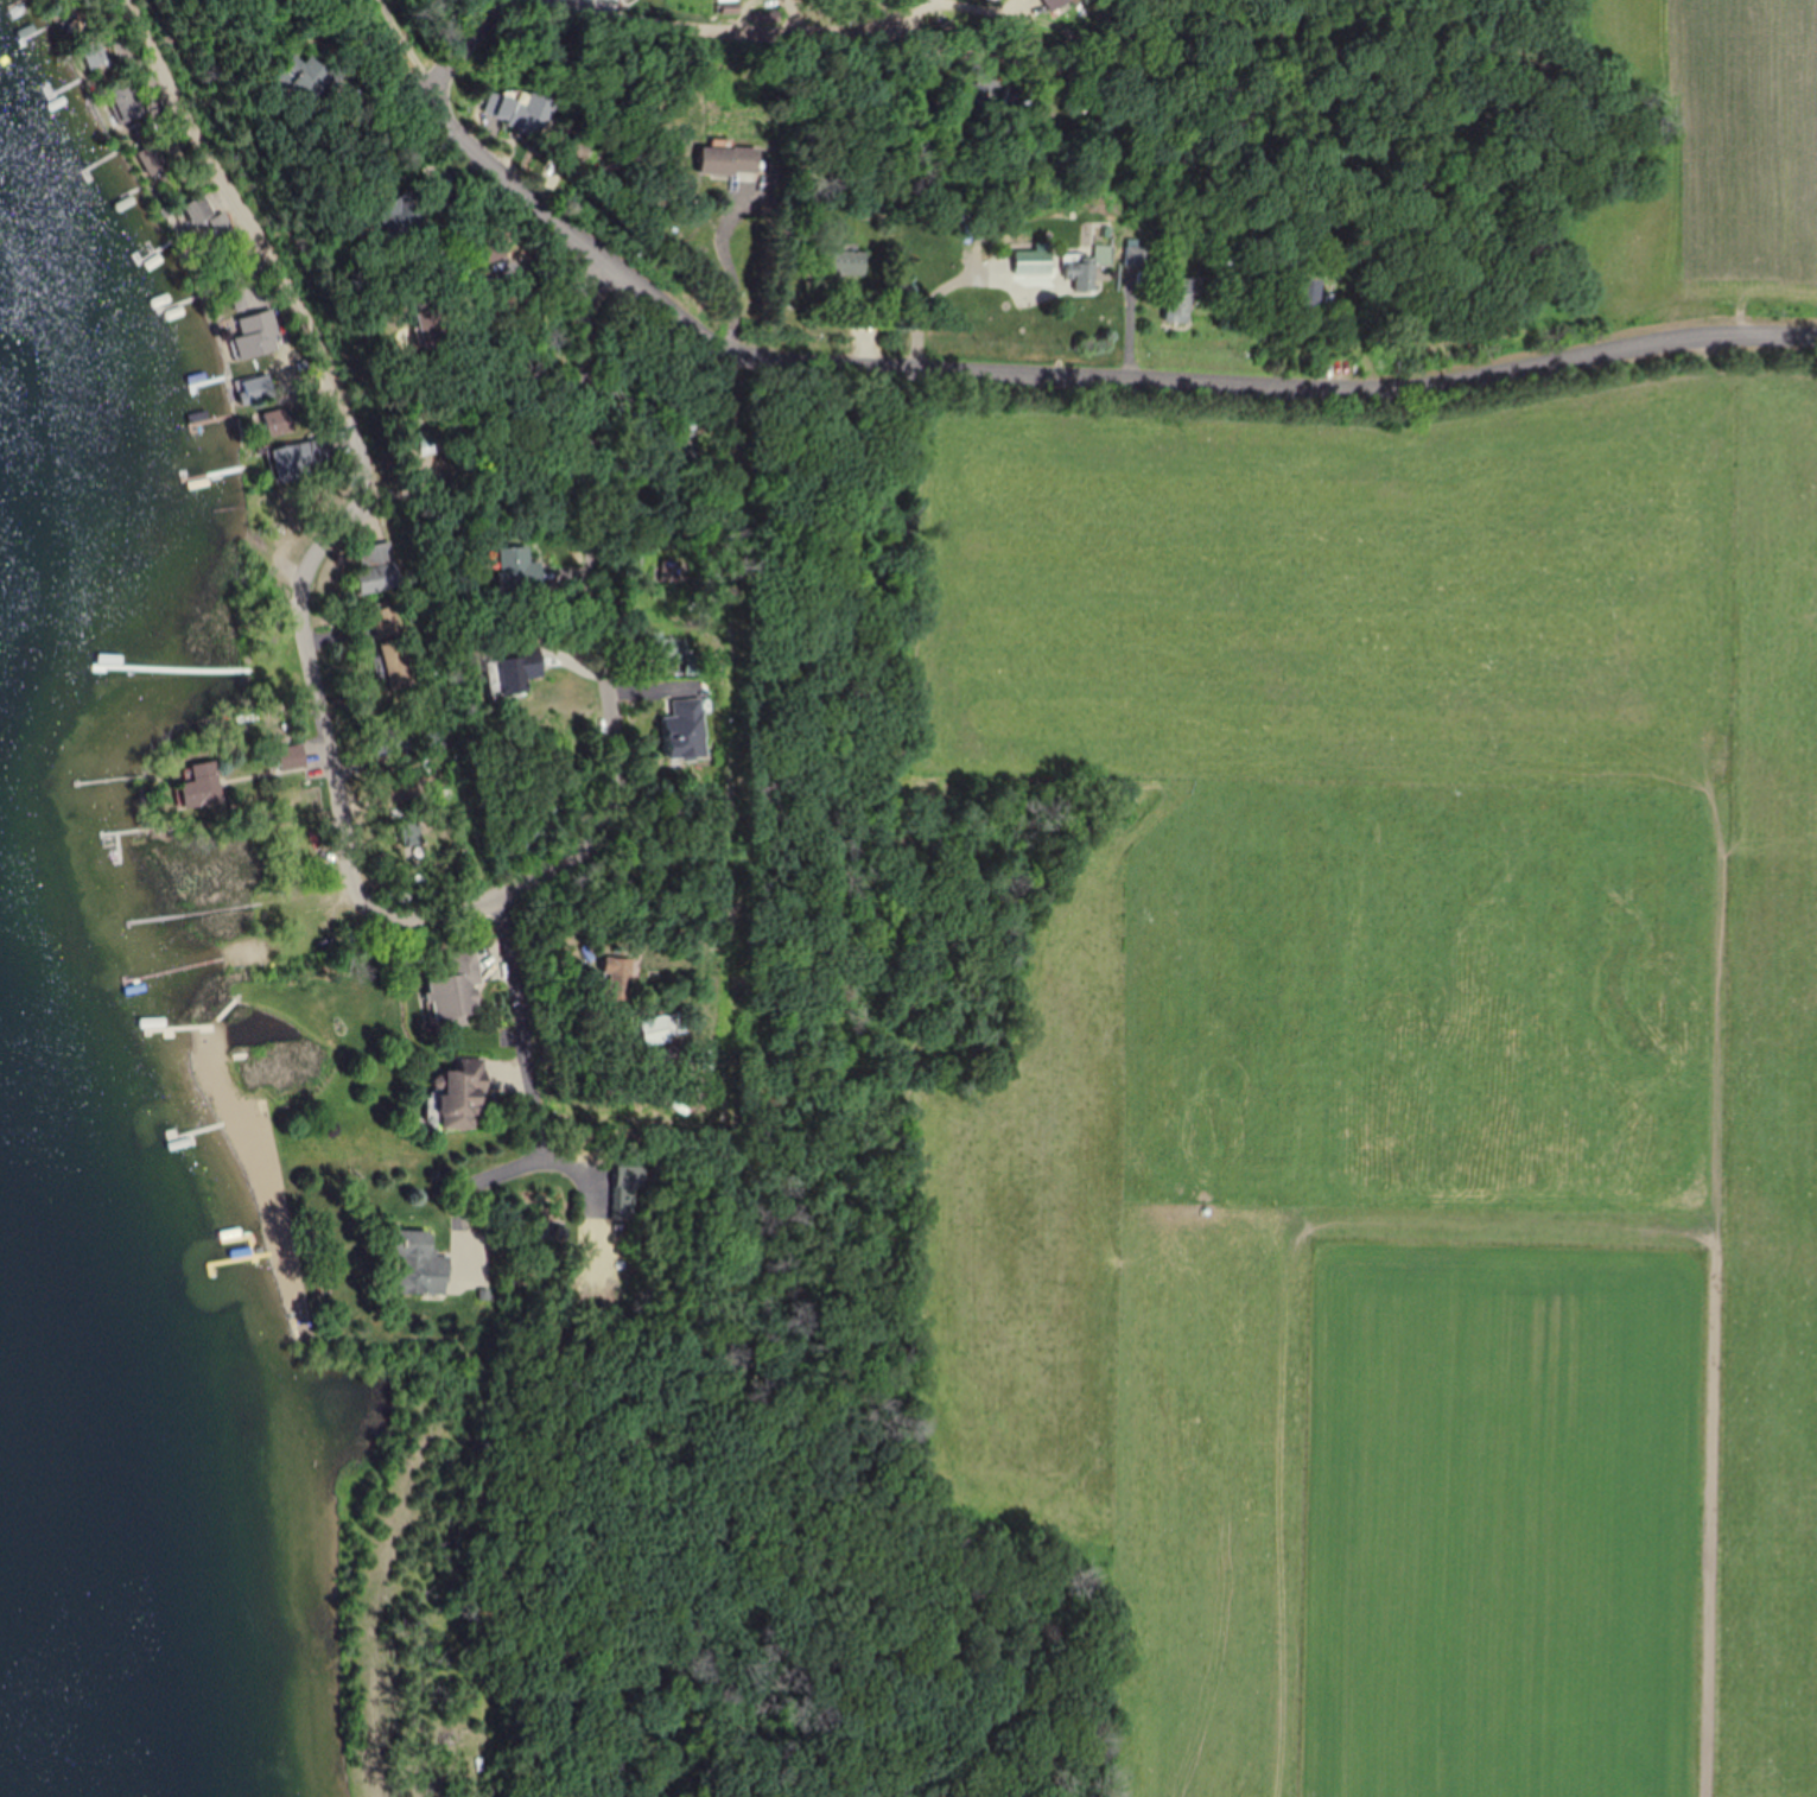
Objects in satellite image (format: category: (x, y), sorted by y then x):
road: (736, 26)
road: (468, 38)
road: (399, 45)
building: (90, 51)
building: (300, 81)
building: (128, 103)
building: (520, 109)
road: (942, 131)
building: (728, 160)
building: (148, 161)
building: (444, 202)
building: (208, 215)
building: (396, 216)
road: (266, 235)
building: (1133, 254)
building: (841, 261)
building: (1031, 261)
building: (1084, 266)
building: (1300, 296)
building: (1177, 299)
building: (256, 337)
road: (1073, 383)
building: (253, 388)
building: (280, 421)
building: (303, 457)
building: (379, 567)
building: (519, 567)
building: (392, 646)
building: (673, 652)
building: (514, 672)
building: (686, 728)
building: (390, 741)
building: (291, 756)
building: (198, 786)
building: (411, 832)
road: (542, 870)
building: (617, 976)
building: (456, 990)
building: (662, 1027)
road: (529, 1078)
building: (462, 1093)
road: (564, 1163)
building: (629, 1188)
building: (415, 1262)
road: (479, 1771)

